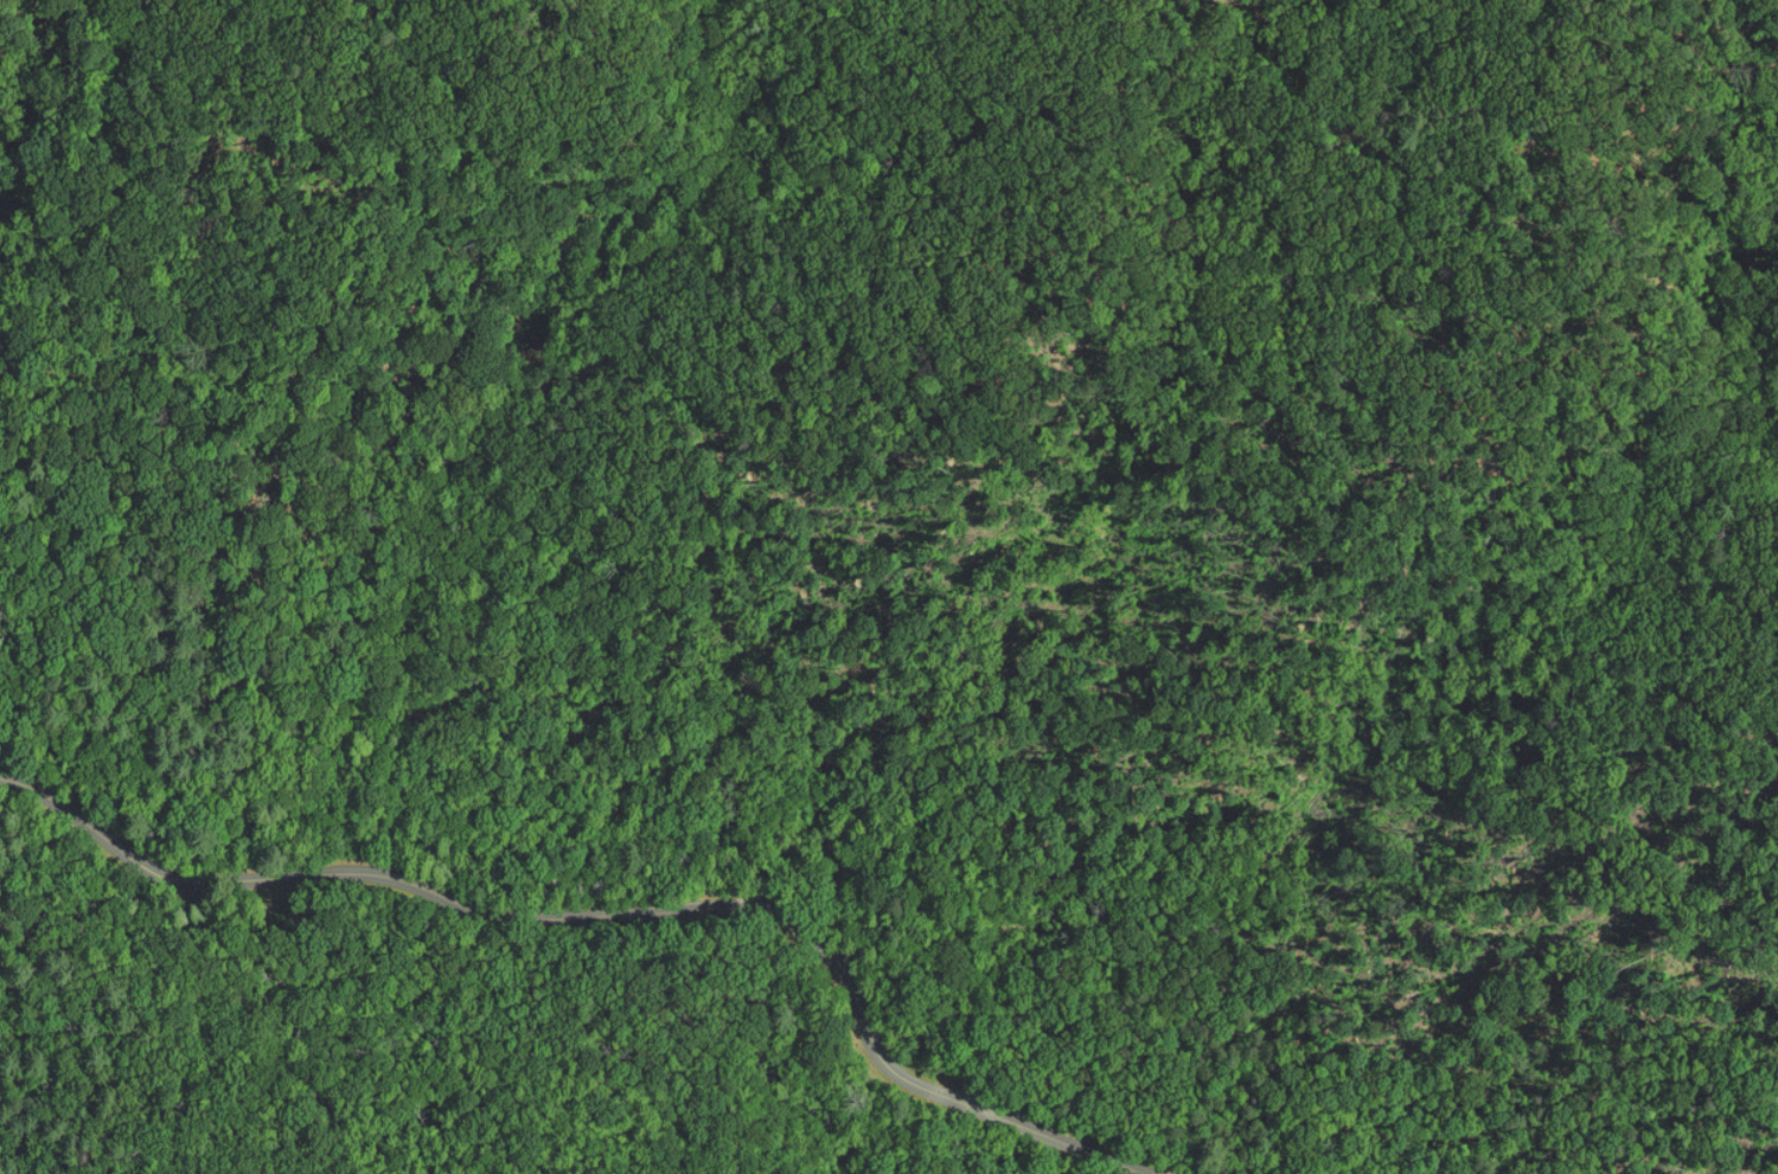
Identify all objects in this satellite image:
road: (98, 830)
road: (210, 880)
road: (517, 916)
road: (821, 939)
road: (959, 1097)

